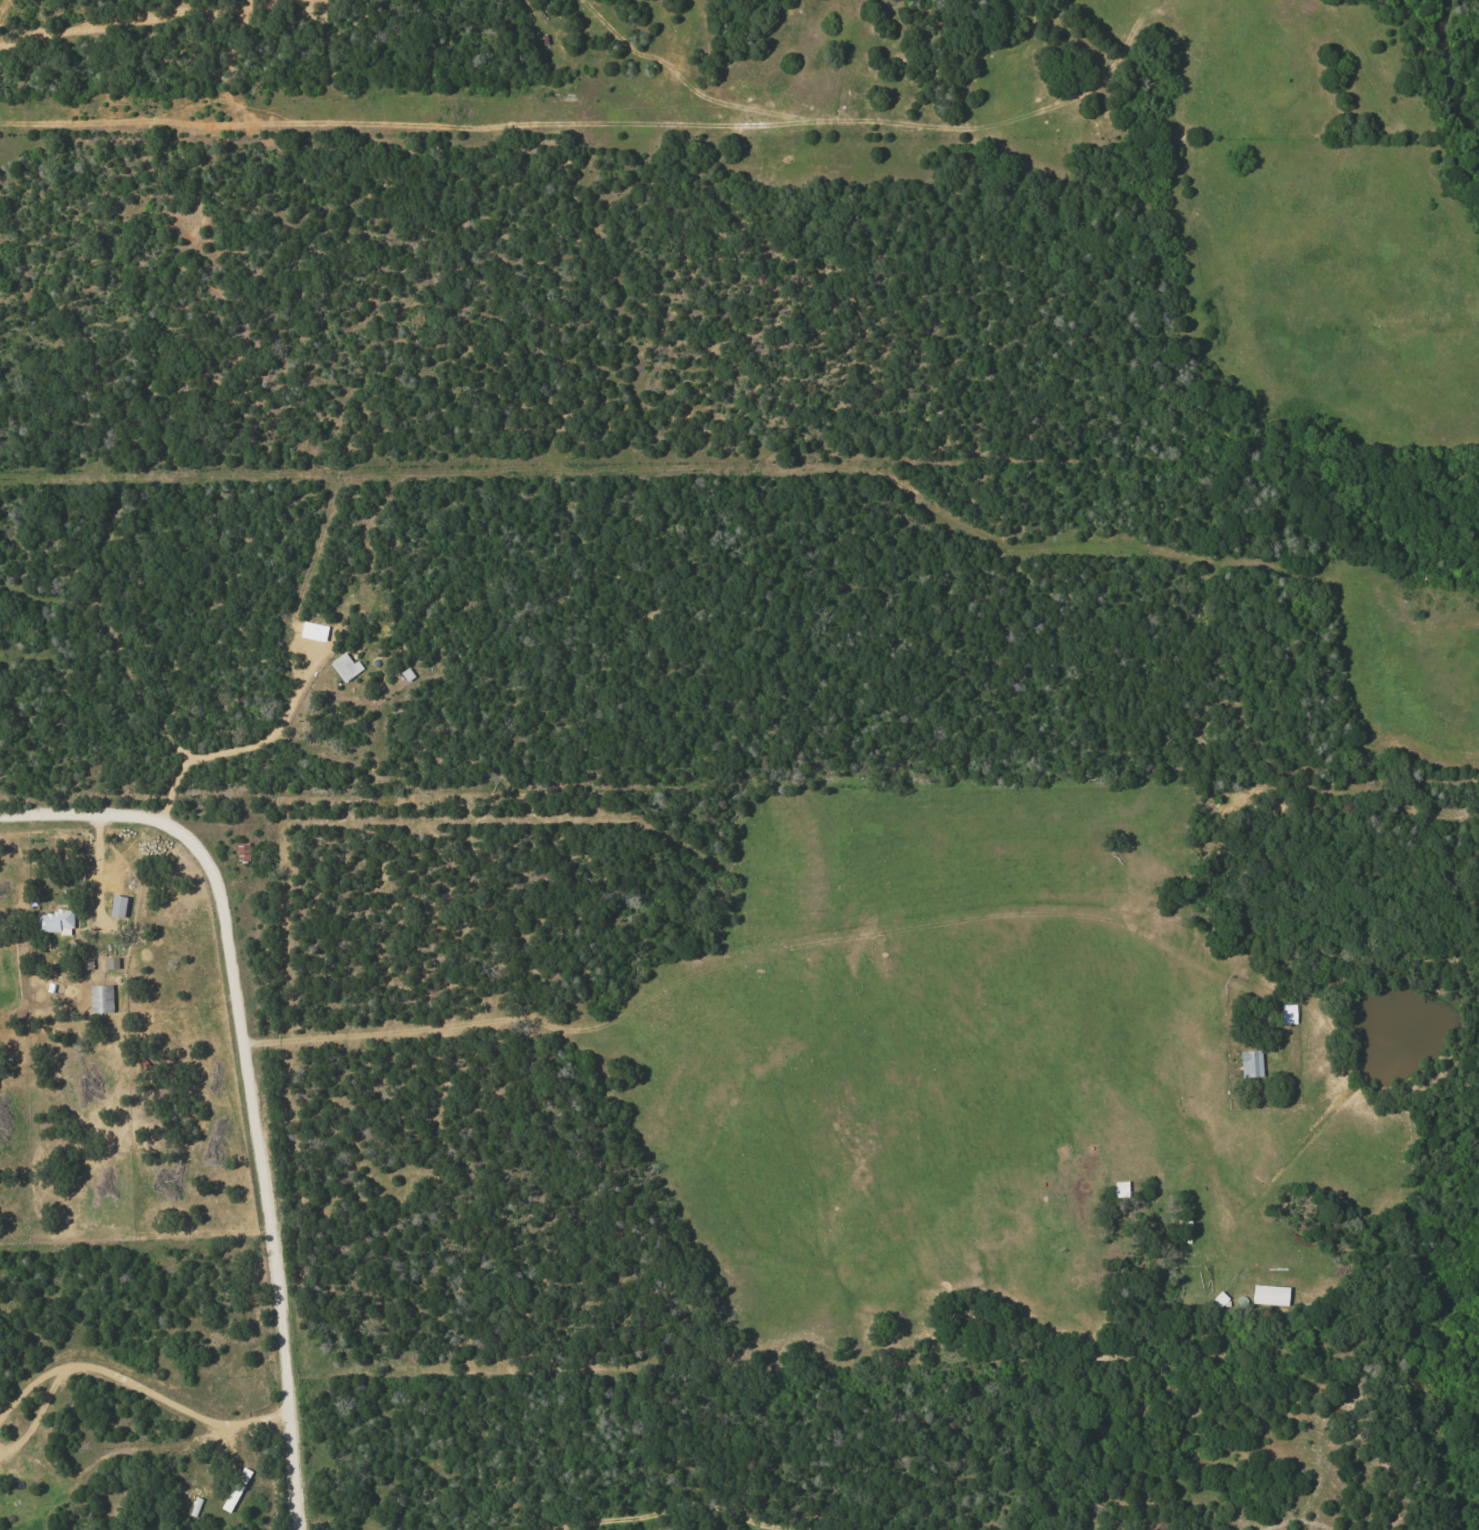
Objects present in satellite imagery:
road: (145, 22)
building: (346, 667)
road: (256, 743)
building: (117, 906)
building: (54, 922)
building: (87, 964)
building: (111, 964)
building: (101, 999)
building: (1251, 1063)
road: (250, 1080)
building: (1270, 1295)
road: (26, 1394)
road: (173, 1408)
road: (35, 1422)
building: (236, 1490)

